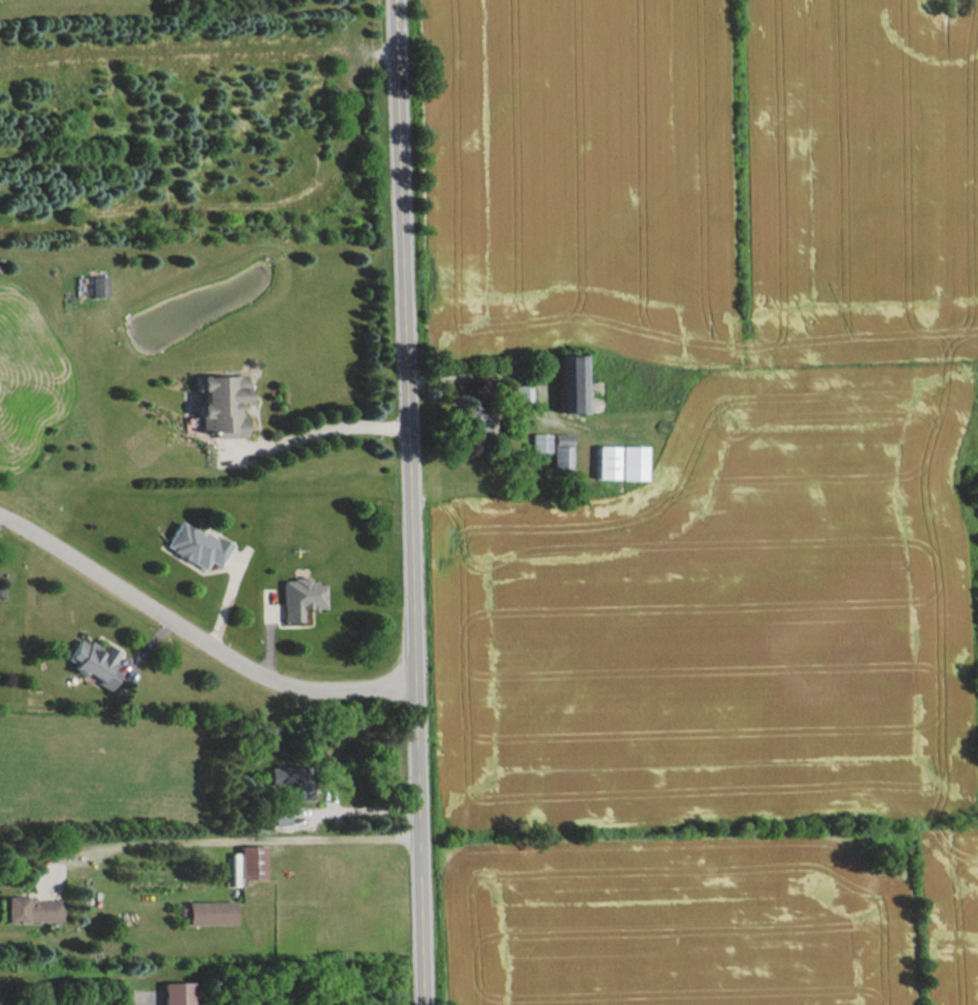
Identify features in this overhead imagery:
building: (98, 285)
road: (489, 371)
building: (570, 383)
building: (520, 392)
building: (221, 404)
building: (474, 419)
road: (318, 431)
building: (539, 442)
building: (561, 450)
building: (606, 461)
building: (631, 462)
road: (407, 502)
building: (195, 545)
building: (299, 597)
road: (196, 636)
building: (94, 661)
building: (290, 779)
road: (359, 810)
building: (280, 815)
road: (232, 840)
building: (251, 861)
building: (30, 909)
building: (210, 912)
building: (177, 992)

